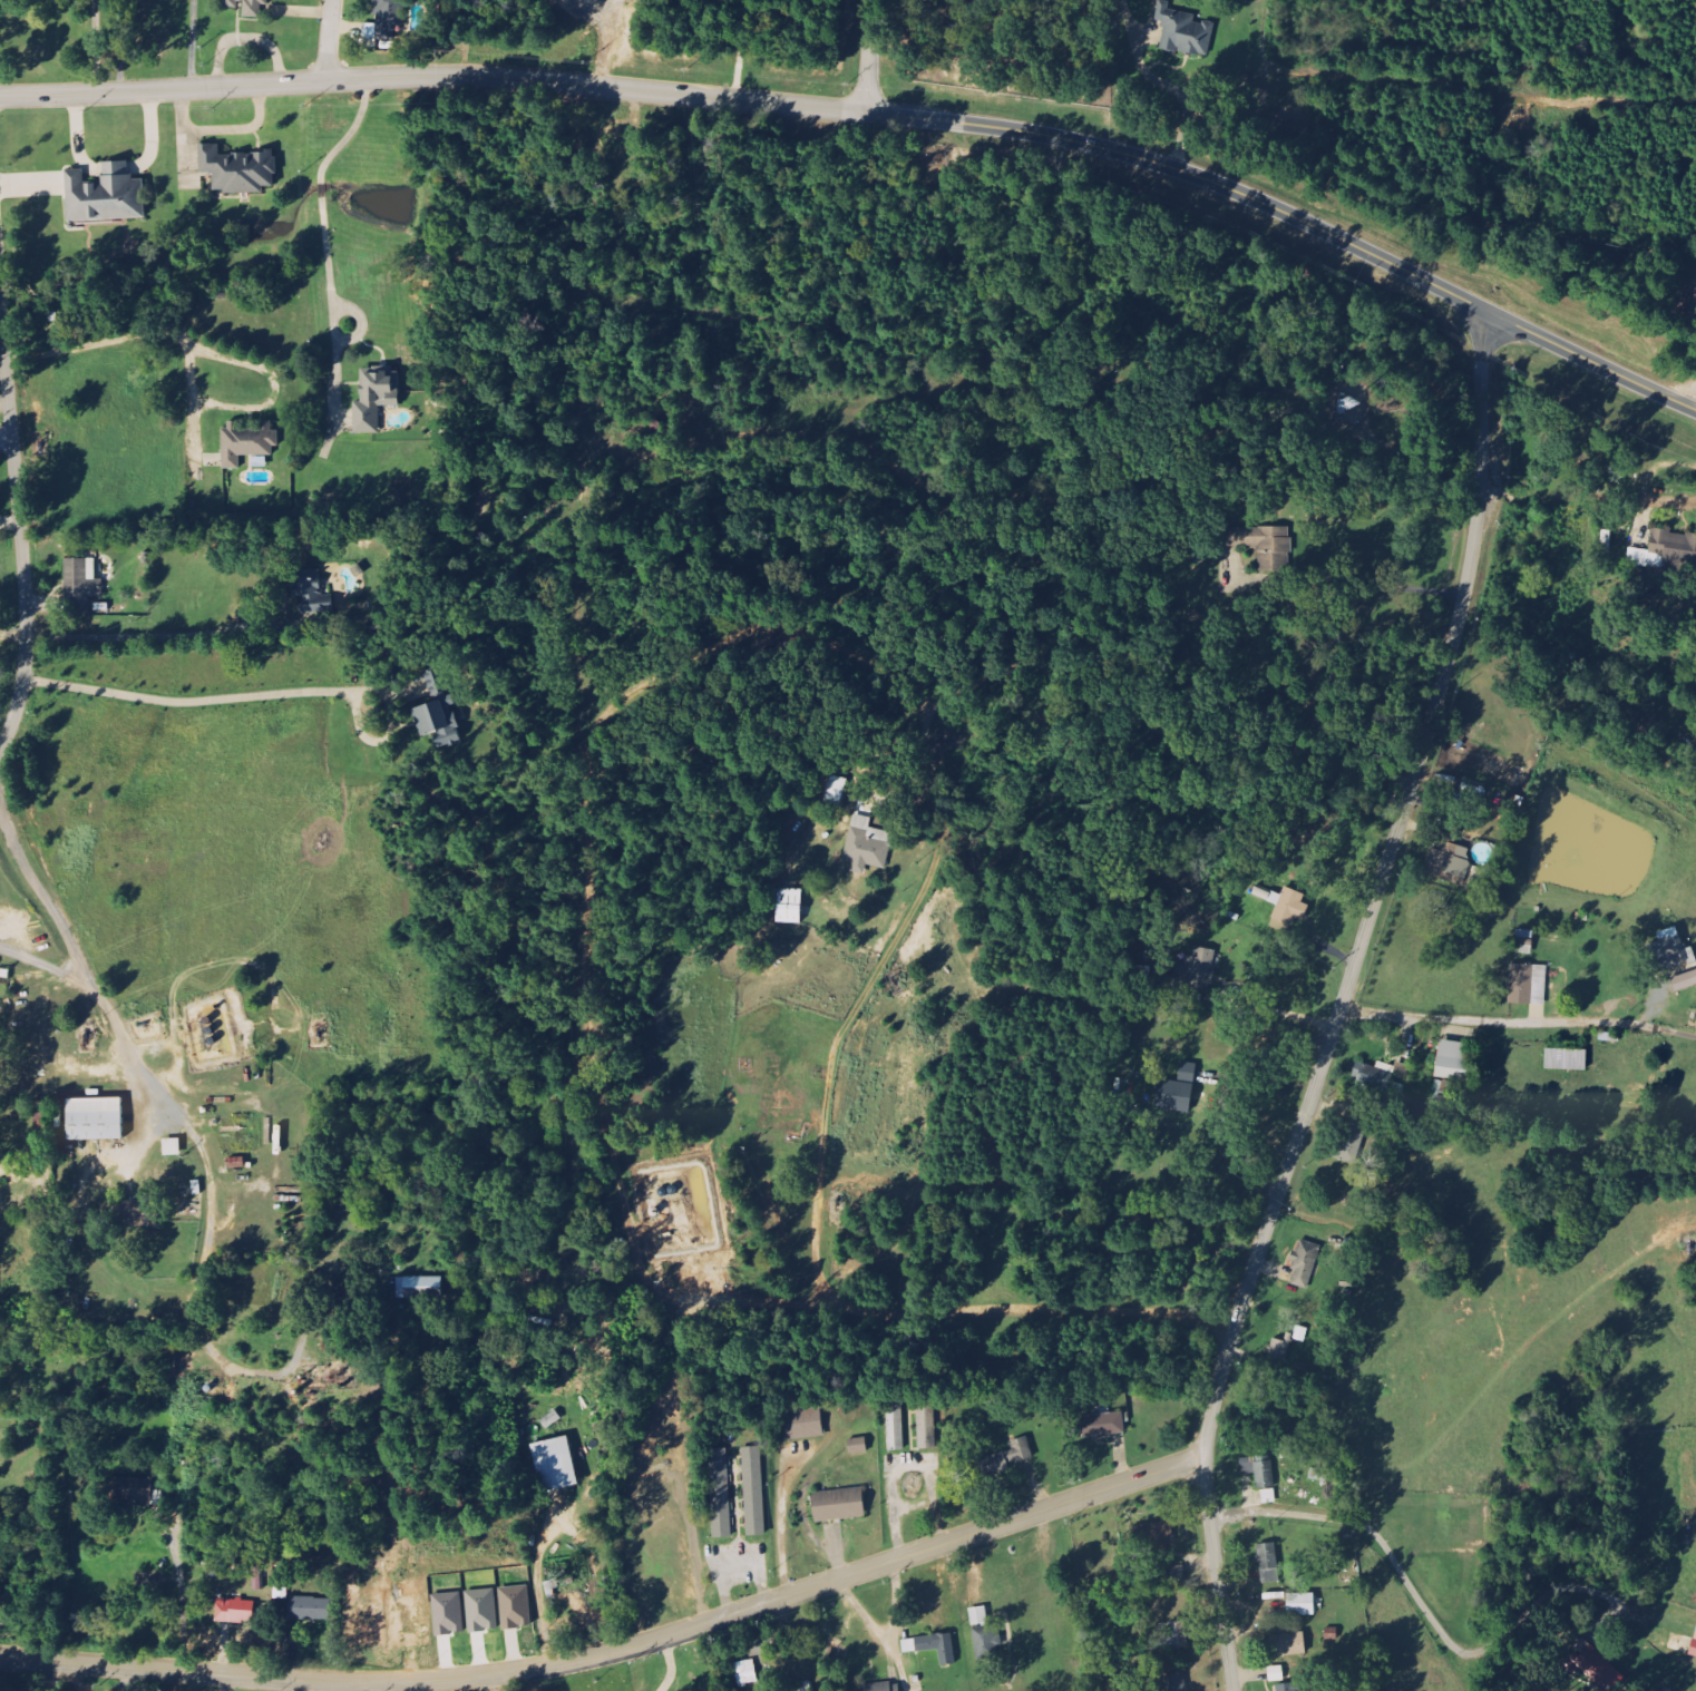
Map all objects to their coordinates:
building: (247, 7)
building: (386, 19)
building: (1183, 32)
road: (330, 39)
road: (868, 56)
road: (507, 77)
road: (1177, 90)
road: (29, 94)
road: (222, 128)
building: (238, 169)
building: (106, 195)
road: (1335, 235)
building: (376, 398)
road: (7, 438)
building: (248, 441)
road: (20, 532)
building: (1265, 545)
building: (1665, 549)
building: (81, 584)
building: (312, 594)
building: (438, 711)
building: (836, 792)
building: (868, 847)
building: (1443, 860)
road: (1378, 887)
building: (790, 907)
building: (1669, 952)
building: (1197, 970)
building: (1685, 983)
building: (1529, 986)
road: (1278, 1010)
building: (1455, 1060)
building: (1568, 1060)
building: (1189, 1073)
building: (1176, 1096)
building: (96, 1120)
building: (130, 1209)
building: (1305, 1263)
building: (419, 1288)
building: (1279, 1349)
building: (806, 1425)
building: (1104, 1425)
building: (897, 1429)
building: (927, 1429)
building: (859, 1446)
building: (1008, 1458)
building: (556, 1465)
building: (1260, 1470)
building: (133, 1489)
building: (754, 1492)
building: (721, 1494)
building: (1269, 1495)
building: (840, 1505)
building: (1159, 1535)
building: (1269, 1564)
road: (1216, 1573)
building: (1178, 1575)
building: (1303, 1605)
building: (516, 1607)
building: (310, 1609)
building: (235, 1611)
building: (483, 1611)
building: (449, 1615)
building: (985, 1635)
building: (1173, 1640)
building: (1288, 1645)
building: (934, 1648)
road: (616, 1651)
building: (1596, 1668)
building: (747, 1674)
building: (1277, 1674)
road: (494, 1683)
building: (1176, 1683)
building: (883, 1688)
building: (1288, 1688)

